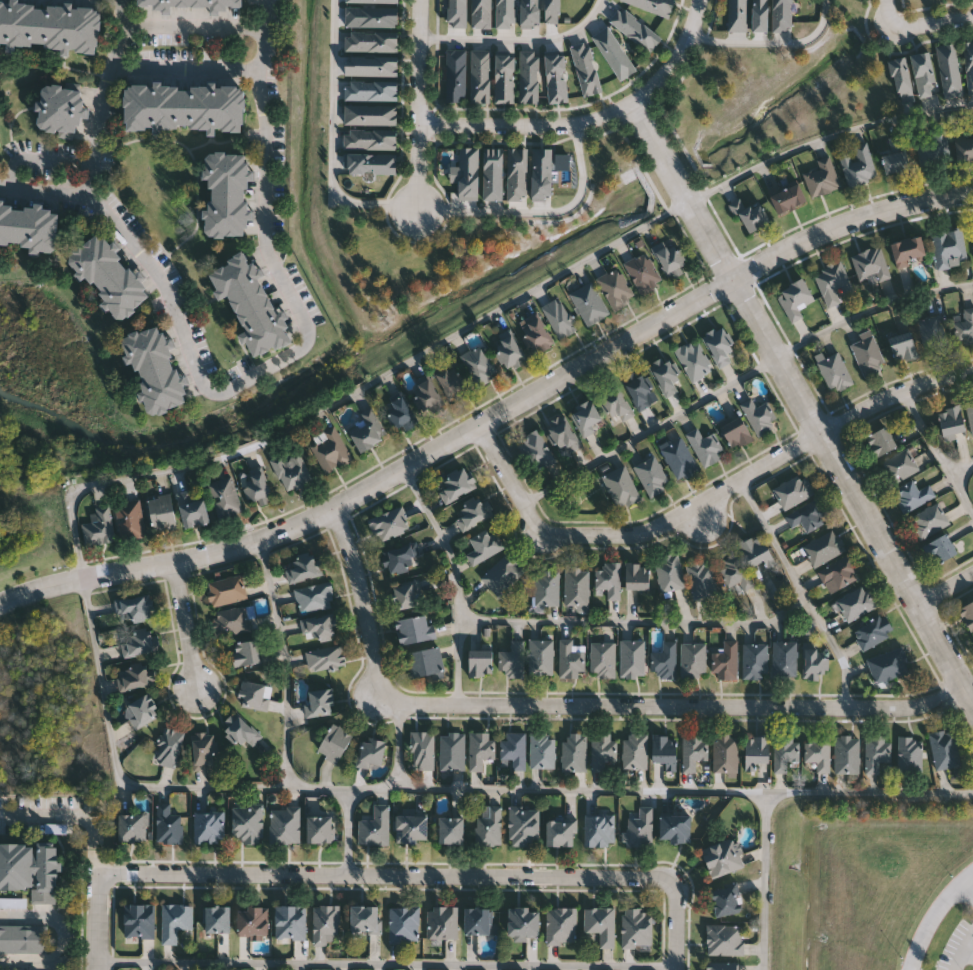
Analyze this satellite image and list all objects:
building: (372, 1)
building: (185, 2)
building: (653, 5)
building: (552, 11)
building: (457, 13)
building: (505, 13)
building: (529, 13)
building: (481, 14)
building: (737, 15)
building: (759, 15)
building: (371, 16)
building: (781, 16)
building: (49, 24)
road: (193, 24)
road: (919, 27)
building: (635, 29)
road: (520, 38)
building: (371, 41)
road: (772, 42)
building: (613, 53)
building: (370, 65)
building: (968, 65)
building: (585, 68)
road: (186, 70)
building: (949, 70)
building: (455, 75)
building: (480, 76)
building: (528, 77)
building: (555, 77)
building: (504, 78)
building: (901, 78)
building: (371, 90)
road: (422, 104)
building: (184, 105)
building: (61, 109)
building: (370, 114)
road: (592, 118)
road: (334, 139)
building: (370, 139)
building: (963, 145)
building: (931, 149)
building: (894, 156)
road: (35, 159)
building: (370, 163)
building: (856, 165)
building: (468, 173)
building: (541, 173)
building: (492, 174)
building: (516, 174)
building: (821, 178)
road: (266, 183)
road: (42, 190)
building: (226, 193)
building: (786, 198)
road: (538, 210)
building: (749, 216)
building: (29, 226)
road: (131, 243)
building: (948, 247)
building: (907, 251)
building: (670, 262)
building: (870, 264)
building: (643, 273)
building: (109, 274)
building: (832, 282)
building: (615, 288)
building: (794, 298)
building: (251, 303)
building: (588, 303)
road: (871, 311)
building: (559, 318)
building: (965, 327)
building: (932, 332)
building: (535, 333)
building: (718, 345)
building: (902, 347)
building: (508, 351)
building: (868, 355)
building: (693, 360)
building: (479, 366)
building: (156, 368)
building: (833, 371)
building: (665, 377)
building: (451, 381)
building: (638, 389)
road: (796, 393)
building: (427, 395)
building: (616, 407)
road: (316, 412)
building: (400, 414)
building: (970, 415)
road: (495, 416)
building: (759, 416)
building: (586, 418)
building: (950, 420)
building: (365, 429)
road: (649, 430)
building: (735, 432)
building: (559, 433)
building: (879, 441)
building: (704, 445)
building: (330, 450)
building: (537, 450)
road: (937, 454)
building: (678, 459)
building: (899, 466)
road: (960, 470)
building: (291, 471)
building: (651, 475)
building: (252, 482)
building: (456, 484)
building: (621, 487)
building: (793, 491)
building: (912, 495)
road: (708, 497)
building: (224, 498)
building: (191, 508)
building: (472, 512)
building: (161, 513)
road: (702, 514)
building: (808, 515)
building: (130, 520)
building: (928, 521)
building: (390, 524)
building: (99, 528)
building: (483, 546)
building: (823, 548)
building: (940, 549)
building: (756, 551)
building: (402, 558)
building: (303, 569)
building: (670, 572)
building: (735, 572)
building: (840, 572)
building: (503, 575)
building: (636, 576)
building: (701, 578)
road: (455, 579)
building: (608, 579)
building: (577, 586)
road: (943, 586)
building: (546, 588)
road: (800, 590)
building: (227, 591)
building: (407, 595)
building: (315, 597)
building: (856, 603)
building: (138, 608)
building: (967, 615)
building: (232, 622)
road: (636, 623)
road: (186, 625)
building: (321, 627)
building: (415, 630)
building: (872, 631)
building: (138, 644)
building: (246, 653)
building: (541, 657)
building: (326, 658)
building: (570, 658)
building: (602, 659)
building: (632, 659)
building: (785, 659)
building: (814, 659)
building: (512, 660)
building: (663, 661)
building: (693, 661)
building: (725, 661)
building: (755, 661)
building: (423, 663)
building: (479, 663)
building: (888, 665)
building: (135, 677)
building: (254, 695)
road: (966, 696)
building: (319, 703)
road: (576, 703)
building: (141, 712)
road: (286, 729)
building: (240, 731)
building: (334, 742)
building: (169, 747)
building: (513, 749)
building: (944, 749)
building: (422, 750)
building: (480, 750)
building: (542, 750)
building: (203, 751)
building: (452, 751)
building: (664, 751)
building: (755, 751)
building: (574, 752)
building: (603, 752)
building: (634, 752)
building: (694, 752)
building: (784, 752)
building: (818, 752)
building: (875, 752)
building: (370, 753)
building: (725, 754)
building: (846, 755)
building: (909, 755)
road: (397, 766)
road: (685, 787)
road: (44, 815)
building: (247, 821)
building: (285, 823)
building: (522, 823)
building: (168, 824)
building: (488, 824)
building: (374, 825)
building: (133, 826)
building: (209, 826)
building: (673, 826)
building: (410, 827)
building: (639, 827)
building: (319, 828)
building: (449, 828)
building: (598, 828)
building: (559, 831)
road: (94, 832)
building: (722, 856)
road: (98, 867)
building: (30, 868)
road: (381, 873)
road: (764, 879)
road: (968, 888)
building: (724, 898)
building: (217, 918)
building: (364, 918)
building: (251, 919)
building: (478, 919)
building: (139, 920)
building: (175, 920)
building: (289, 920)
road: (937, 920)
building: (442, 921)
building: (522, 922)
building: (600, 922)
road: (675, 922)
building: (404, 923)
building: (325, 924)
building: (561, 924)
building: (635, 926)
road: (97, 927)
building: (24, 937)
road: (64, 937)
building: (723, 938)
parking lot: (959, 947)
road: (964, 952)
road: (386, 963)
building: (720, 966)
building: (2, 969)

